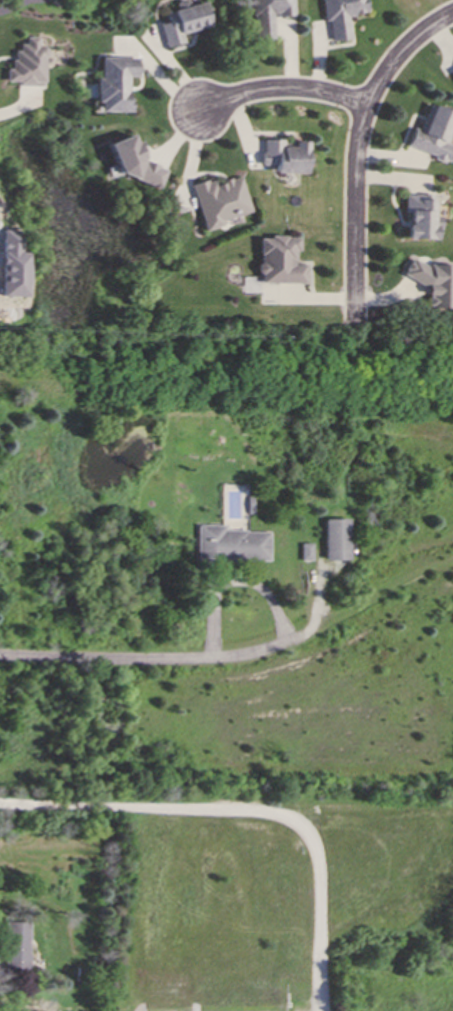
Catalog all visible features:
building: (267, 15)
building: (339, 15)
building: (181, 21)
building: (26, 63)
building: (451, 69)
building: (114, 82)
road: (276, 84)
building: (432, 133)
road: (356, 143)
building: (284, 155)
building: (132, 161)
building: (217, 200)
building: (419, 216)
building: (280, 260)
building: (432, 281)
building: (335, 538)
building: (227, 544)
building: (305, 550)
road: (142, 656)
road: (249, 808)
building: (15, 947)

